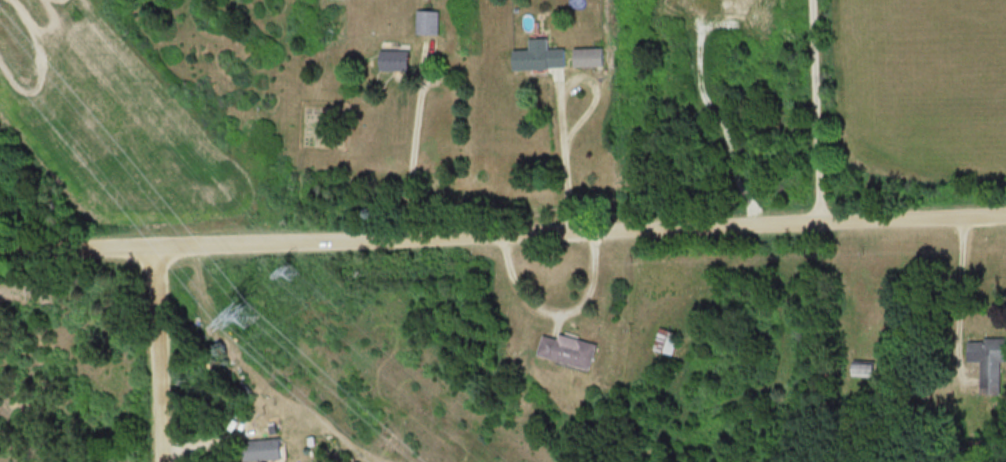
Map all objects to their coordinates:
building: (428, 19)
building: (540, 54)
building: (592, 55)
building: (396, 57)
road: (816, 106)
road: (413, 144)
road: (565, 149)
road: (503, 225)
power tower: (296, 269)
road: (959, 277)
road: (558, 309)
power tower: (249, 314)
building: (667, 339)
building: (572, 348)
road: (166, 350)
building: (988, 358)
building: (863, 366)
building: (267, 448)

